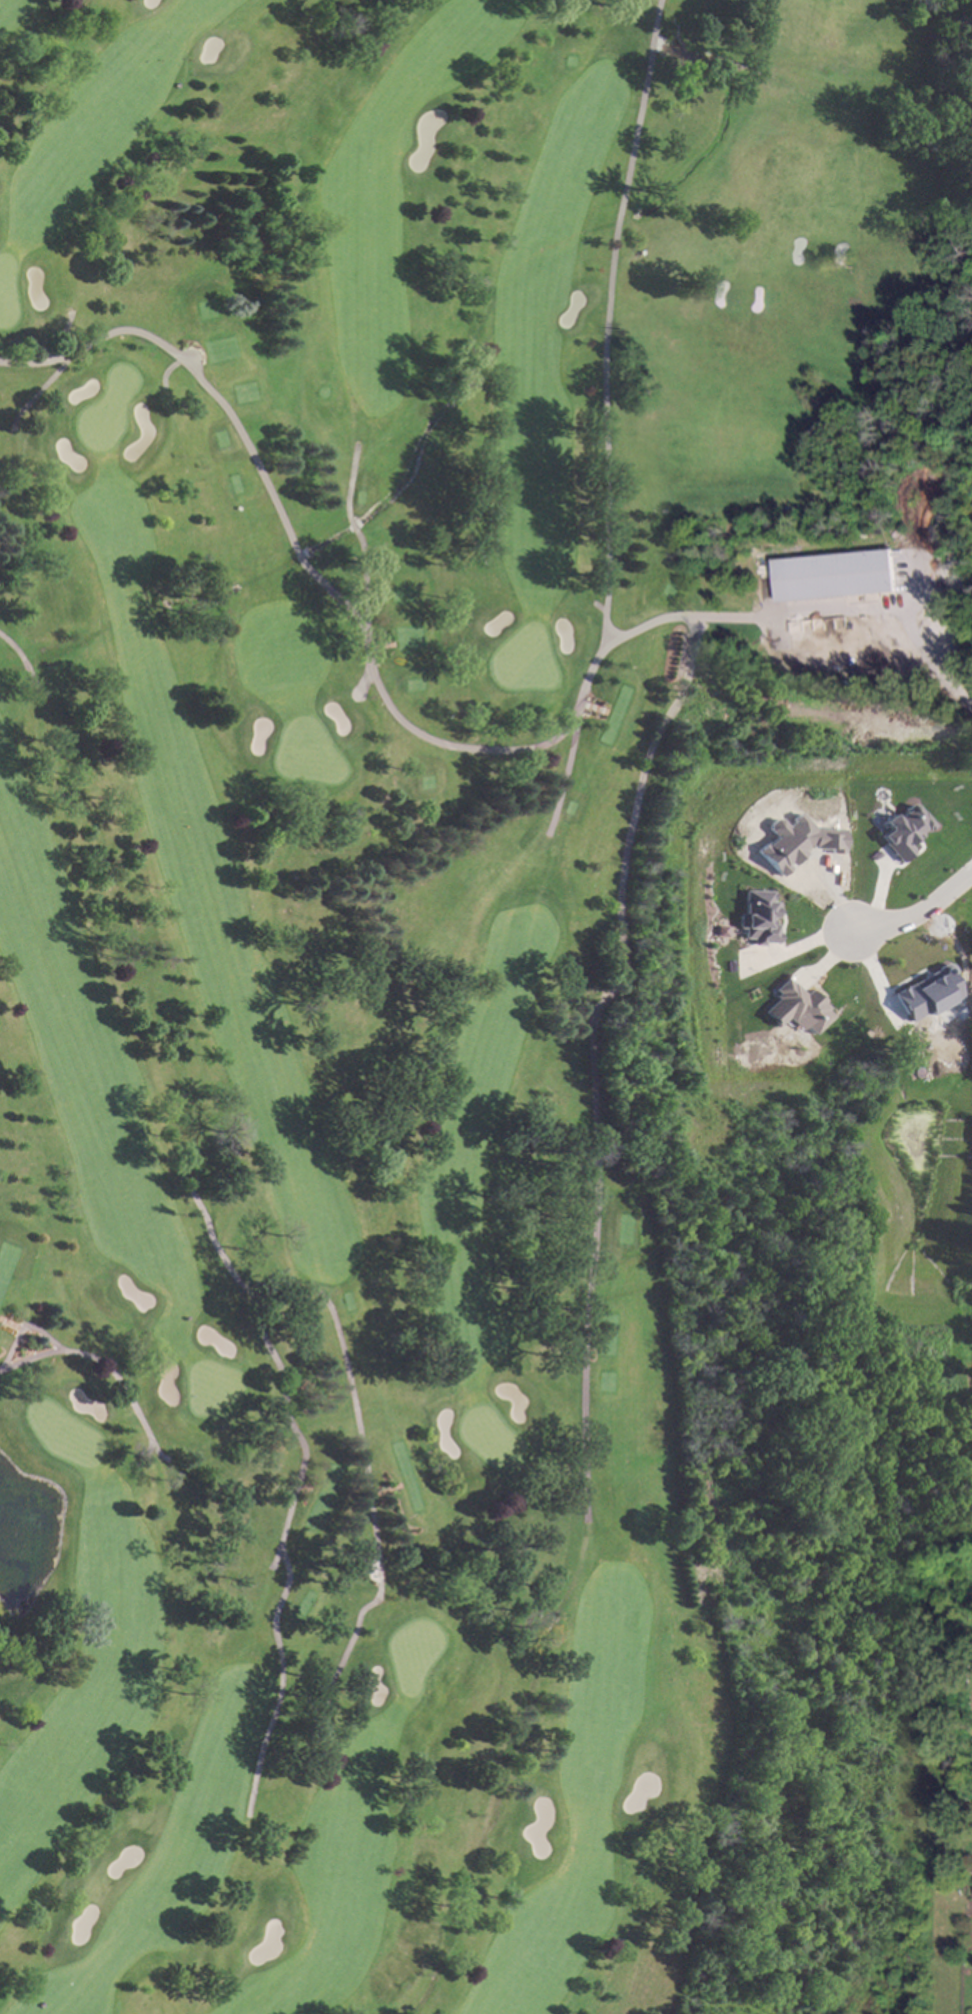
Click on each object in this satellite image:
road: (605, 318)
road: (61, 340)
road: (166, 371)
road: (41, 388)
road: (357, 536)
building: (833, 575)
road: (596, 607)
road: (363, 630)
road: (915, 639)
road: (23, 662)
road: (363, 680)
road: (563, 774)
building: (896, 831)
building: (795, 842)
road: (917, 915)
building: (758, 917)
park: (409, 925)
building: (920, 994)
building: (794, 1007)
road: (592, 1100)
road: (26, 1325)
road: (107, 1367)
road: (297, 1490)
road: (370, 1499)
road: (277, 1556)
building: (367, 1565)

